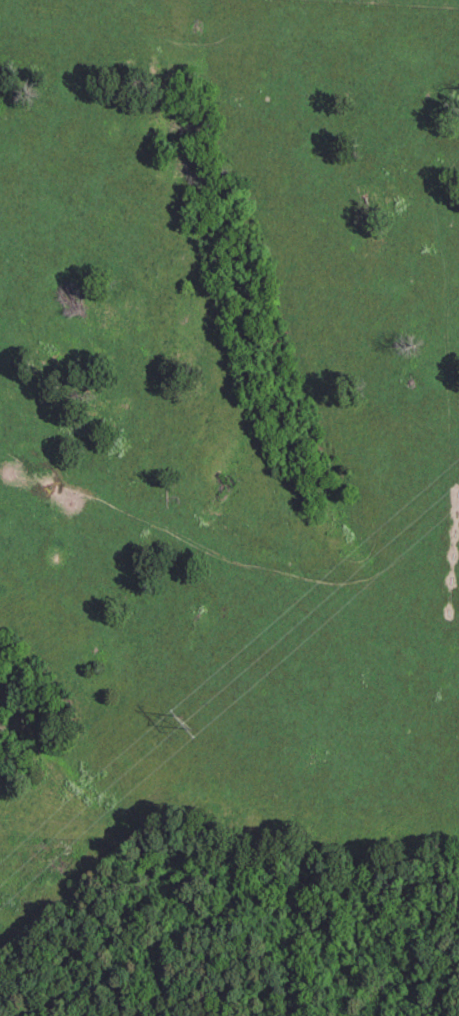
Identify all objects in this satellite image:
power tower: (182, 729)

